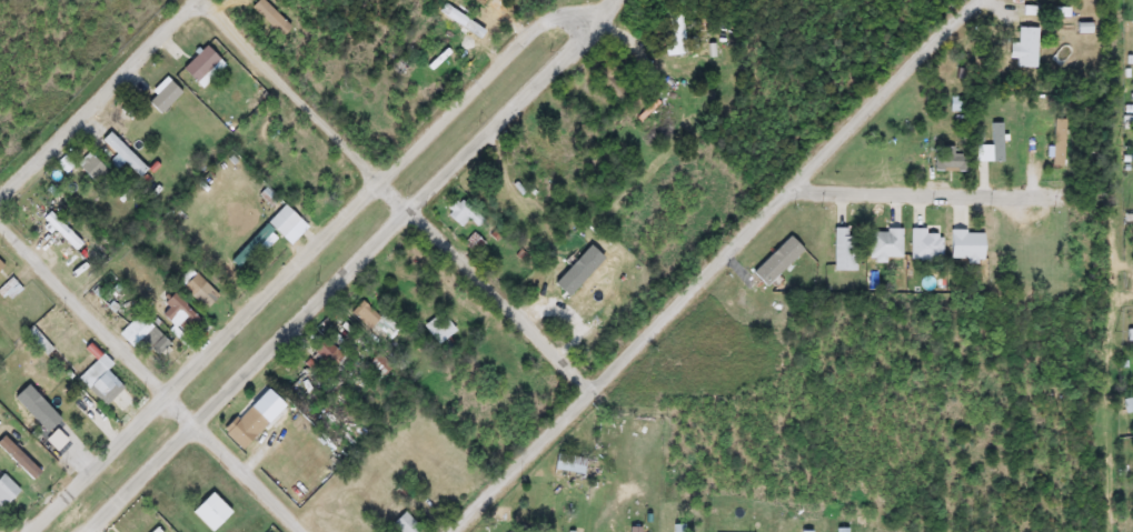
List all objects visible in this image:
road: (600, 13)
building: (1026, 48)
building: (199, 63)
road: (95, 96)
building: (163, 98)
building: (996, 142)
building: (1061, 142)
building: (121, 154)
building: (948, 159)
building: (91, 169)
road: (910, 187)
road: (398, 191)
building: (461, 213)
building: (60, 230)
building: (884, 244)
building: (925, 245)
building: (965, 245)
building: (842, 249)
road: (297, 259)
road: (708, 264)
building: (0, 265)
road: (338, 275)
building: (198, 290)
building: (176, 314)
building: (374, 322)
road: (152, 377)
building: (248, 424)
building: (568, 464)
building: (6, 490)
building: (209, 512)
building: (153, 530)

